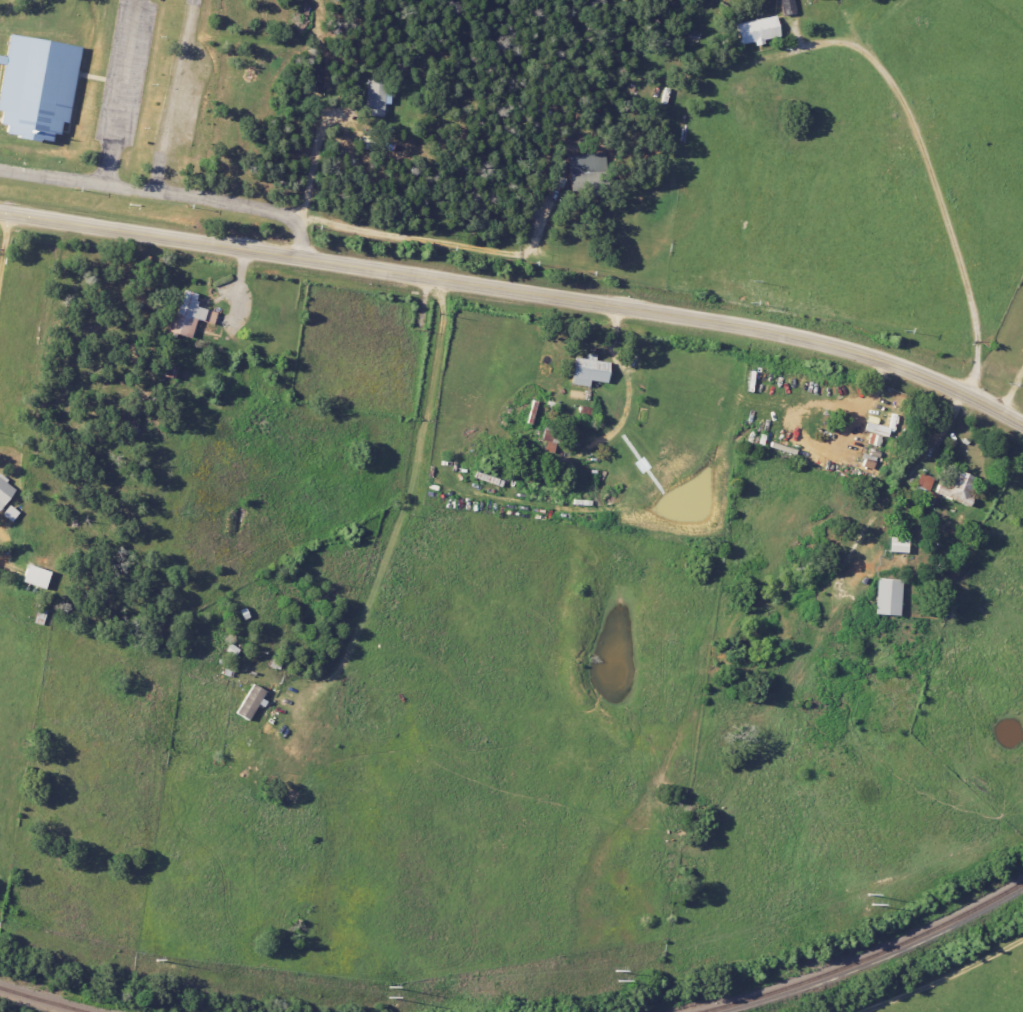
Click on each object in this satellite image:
building: (787, 7)
building: (756, 30)
building: (35, 87)
road: (121, 93)
road: (175, 97)
building: (376, 97)
road: (312, 162)
building: (587, 173)
road: (932, 189)
road: (166, 195)
road: (3, 236)
road: (445, 245)
road: (519, 293)
building: (187, 315)
building: (588, 371)
road: (1009, 389)
building: (880, 427)
building: (554, 435)
building: (873, 439)
building: (923, 483)
building: (956, 488)
building: (4, 490)
road: (400, 512)
building: (9, 513)
building: (896, 545)
building: (34, 576)
building: (886, 597)
building: (249, 701)
railway: (868, 957)
road: (943, 978)
railway: (41, 999)

